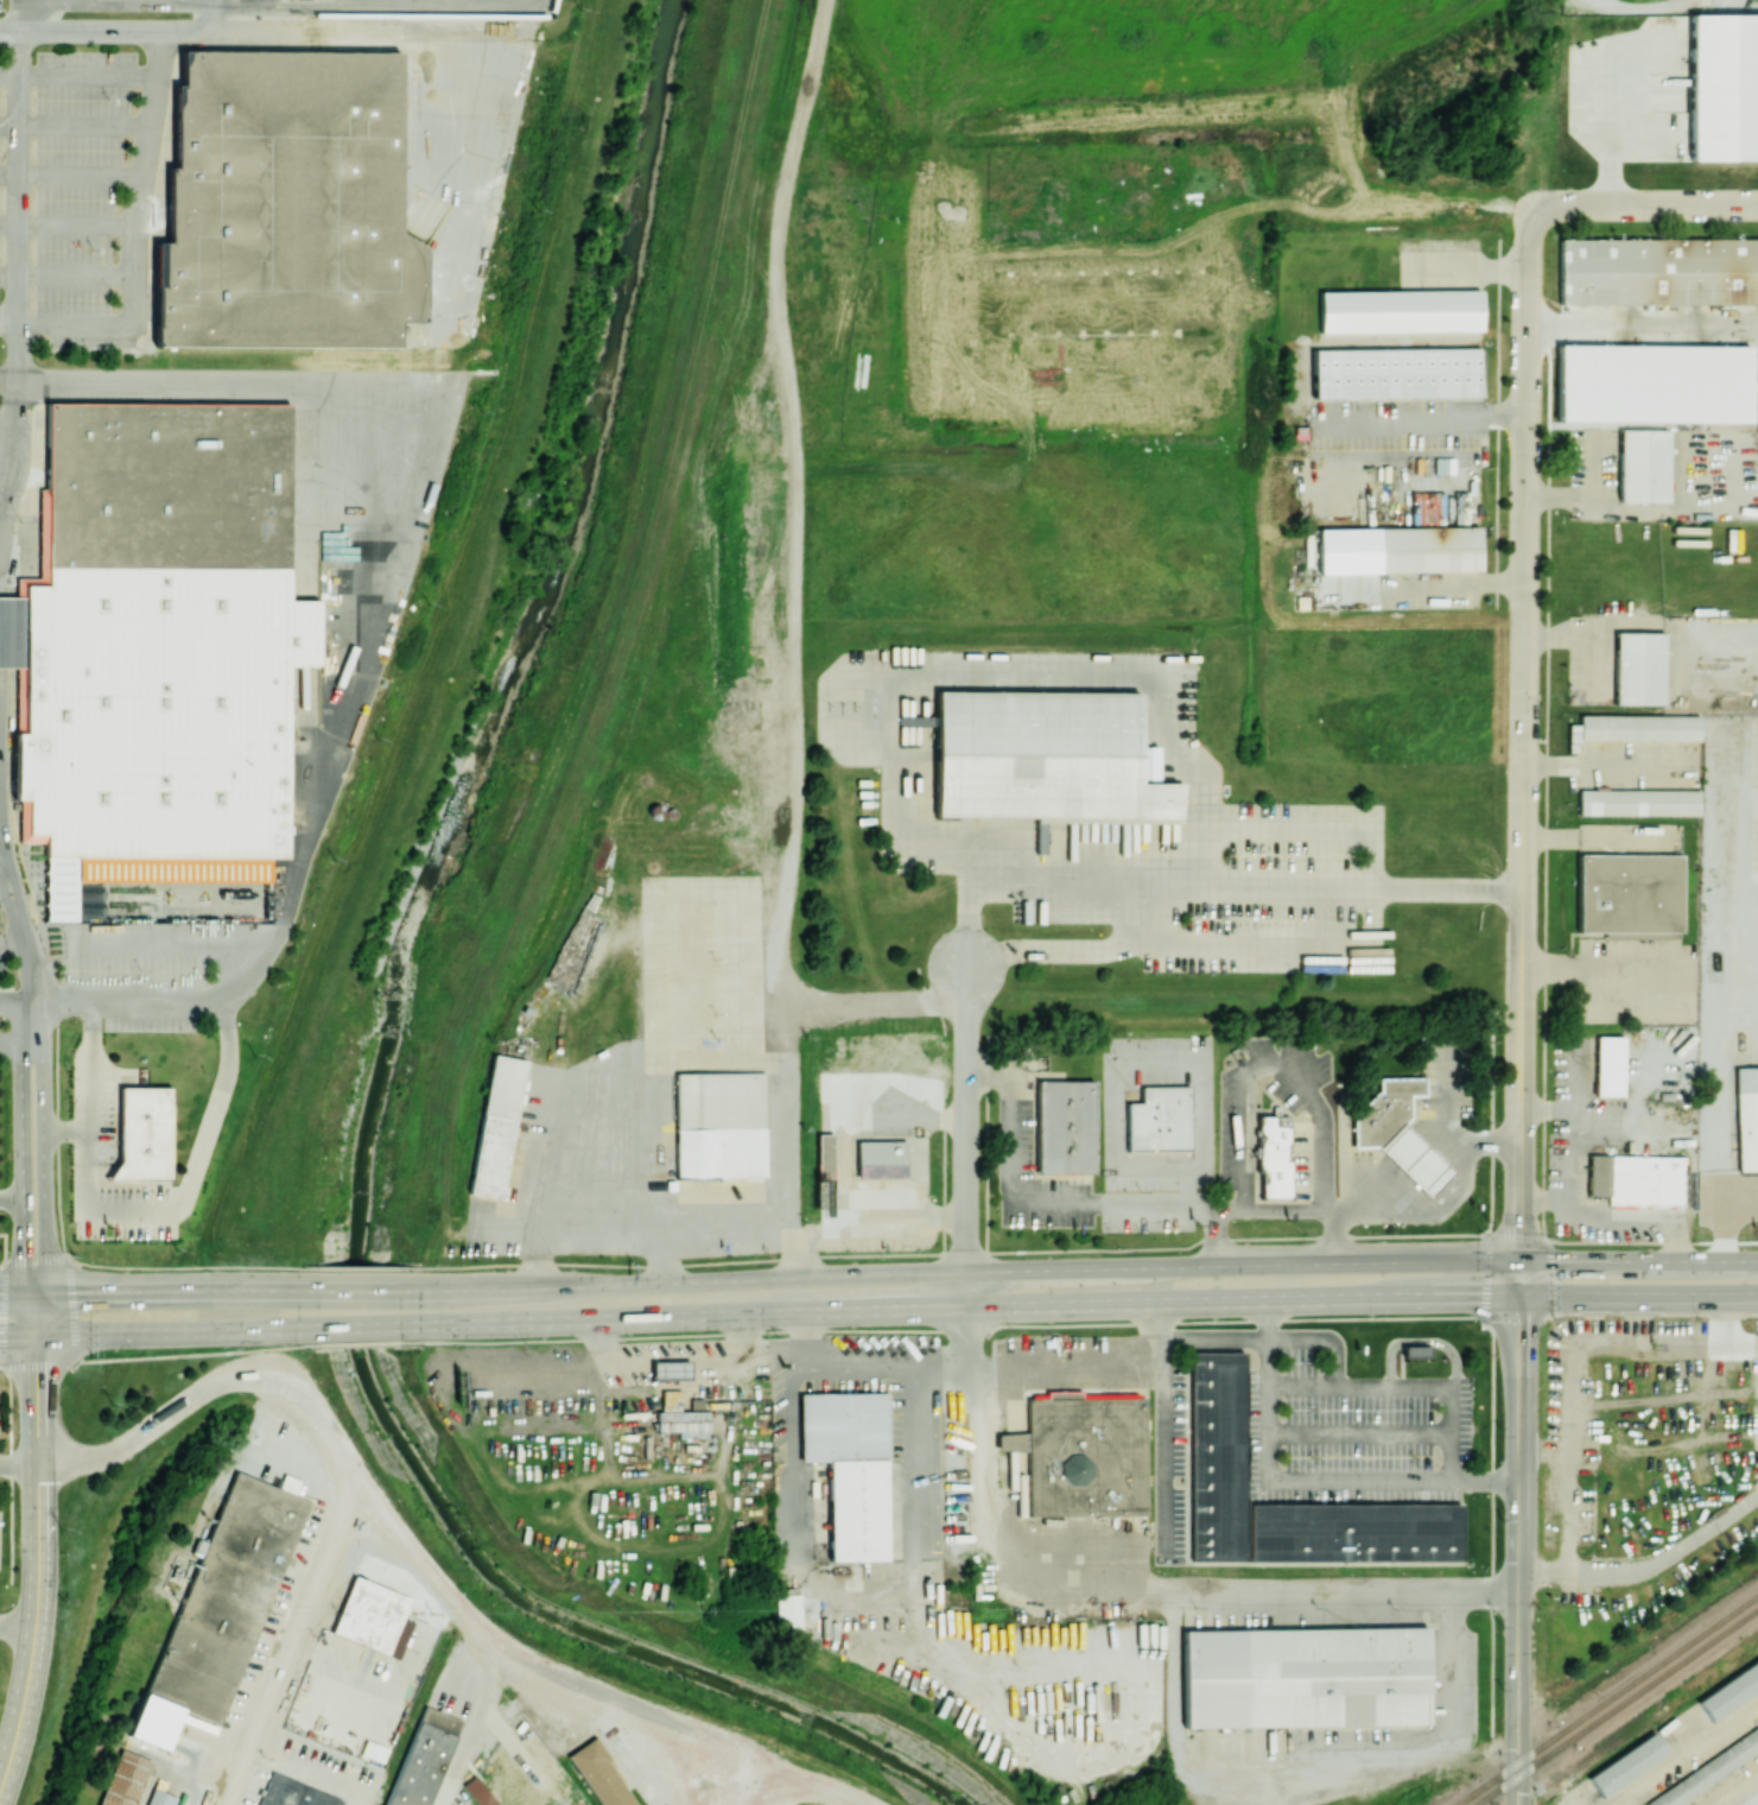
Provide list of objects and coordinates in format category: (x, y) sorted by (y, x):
building: (1618, 6)
road: (24, 14)
road: (211, 15)
road: (8, 28)
road: (8, 74)
building: (1724, 87)
road: (82, 127)
road: (15, 165)
building: (286, 204)
road: (1642, 205)
road: (7, 224)
road: (133, 232)
road: (1477, 268)
building: (1657, 271)
road: (7, 275)
building: (1398, 310)
road: (7, 318)
road: (1640, 361)
building: (1396, 373)
road: (6, 379)
building: (1652, 384)
road: (1424, 419)
road: (6, 423)
building: (1643, 465)
road: (1, 471)
road: (410, 492)
road: (1639, 511)
building: (1397, 549)
road: (1443, 585)
power tower: (429, 603)
building: (12, 633)
building: (161, 639)
building: (1638, 667)
building: (1633, 728)
road: (1522, 734)
power tower: (379, 739)
building: (1043, 758)
building: (1638, 802)
road: (0, 837)
power tower: (336, 860)
road: (1207, 889)
building: (1629, 895)
road: (7, 899)
road: (17, 914)
road: (11, 942)
road: (245, 962)
road: (1601, 968)
road: (13, 1001)
road: (27, 1020)
road: (14, 1040)
road: (28, 1040)
river: (387, 1049)
power tower: (255, 1054)
road: (782, 1054)
building: (1607, 1065)
road: (89, 1070)
building: (1400, 1085)
road: (1320, 1109)
road: (1243, 1117)
building: (1381, 1117)
building: (1746, 1117)
building: (1159, 1119)
building: (719, 1125)
building: (495, 1126)
building: (1064, 1126)
building: (144, 1133)
road: (967, 1136)
road: (1472, 1141)
road: (910, 1144)
building: (824, 1154)
building: (1273, 1154)
road: (1409, 1155)
road: (1574, 1157)
building: (880, 1158)
building: (1414, 1159)
gas station: (1414, 1159)
building: (1635, 1179)
road: (1322, 1185)
road: (11, 1196)
road: (1371, 1197)
road: (183, 1204)
road: (1049, 1204)
road: (1305, 1206)
building: (595, 1208)
road: (1540, 1218)
road: (1639, 1221)
traffic signals: (1518, 1228)
road: (878, 1230)
road: (1513, 1236)
road: (703, 1237)
road: (44, 1243)
road: (577, 1243)
road: (21, 1244)
power tower: (176, 1249)
road: (952, 1252)
traffic signals: (23, 1255)
traffic signals: (1555, 1260)
road: (148, 1266)
road: (358, 1267)
road: (1087, 1268)
road: (1484, 1277)
road: (1548, 1278)
road: (147, 1290)
road: (357, 1290)
traffic signals: (77, 1292)
road: (1732, 1294)
traffic signals: (1478, 1297)
road: (1732, 1297)
road: (1061, 1305)
road: (1648, 1313)
road: (31, 1315)
road: (42, 1315)
road: (1510, 1320)
road: (1078, 1324)
road: (357, 1325)
traffic signals: (1518, 1328)
road: (148, 1334)
road: (1420, 1341)
road: (1324, 1342)
road: (357, 1343)
road: (1214, 1344)
road: (760, 1347)
building: (1414, 1351)
road: (655, 1356)
road: (148, 1357)
road: (1065, 1364)
building: (669, 1369)
traffic signals: (38, 1370)
road: (856, 1374)
road: (1403, 1388)
building: (1629, 1389)
power tower: (112, 1404)
building: (679, 1415)
road: (1161, 1429)
road: (1358, 1432)
building: (1083, 1453)
road: (1518, 1453)
building: (1217, 1456)
road: (342, 1462)
road: (19, 1463)
building: (849, 1468)
road: (1305, 1478)
power tower: (61, 1528)
building: (1353, 1532)
road: (39, 1565)
road: (1648, 1569)
road: (1123, 1590)
road: (861, 1594)
building: (221, 1605)
building: (786, 1611)
building: (373, 1616)
road: (18, 1617)
building: (1305, 1677)
railway: (1633, 1679)
road: (554, 1681)
railway: (1639, 1689)
building: (1730, 1691)
road: (1509, 1705)
road: (1523, 1709)
road: (469, 1727)
road: (1682, 1753)
building: (423, 1757)
building: (1627, 1763)
building: (1708, 1769)
road: (1510, 1772)
building: (599, 1774)
railway: (1516, 1775)
building: (122, 1779)
road: (293, 1779)
road: (1297, 1781)
road: (821, 1785)
railway: (1481, 1785)
road: (1522, 1788)
road: (1738, 1791)
building: (477, 1792)
railway: (1491, 1792)
road: (1509, 1792)
building: (293, 1793)
building: (159, 1798)
road: (1580, 1801)

